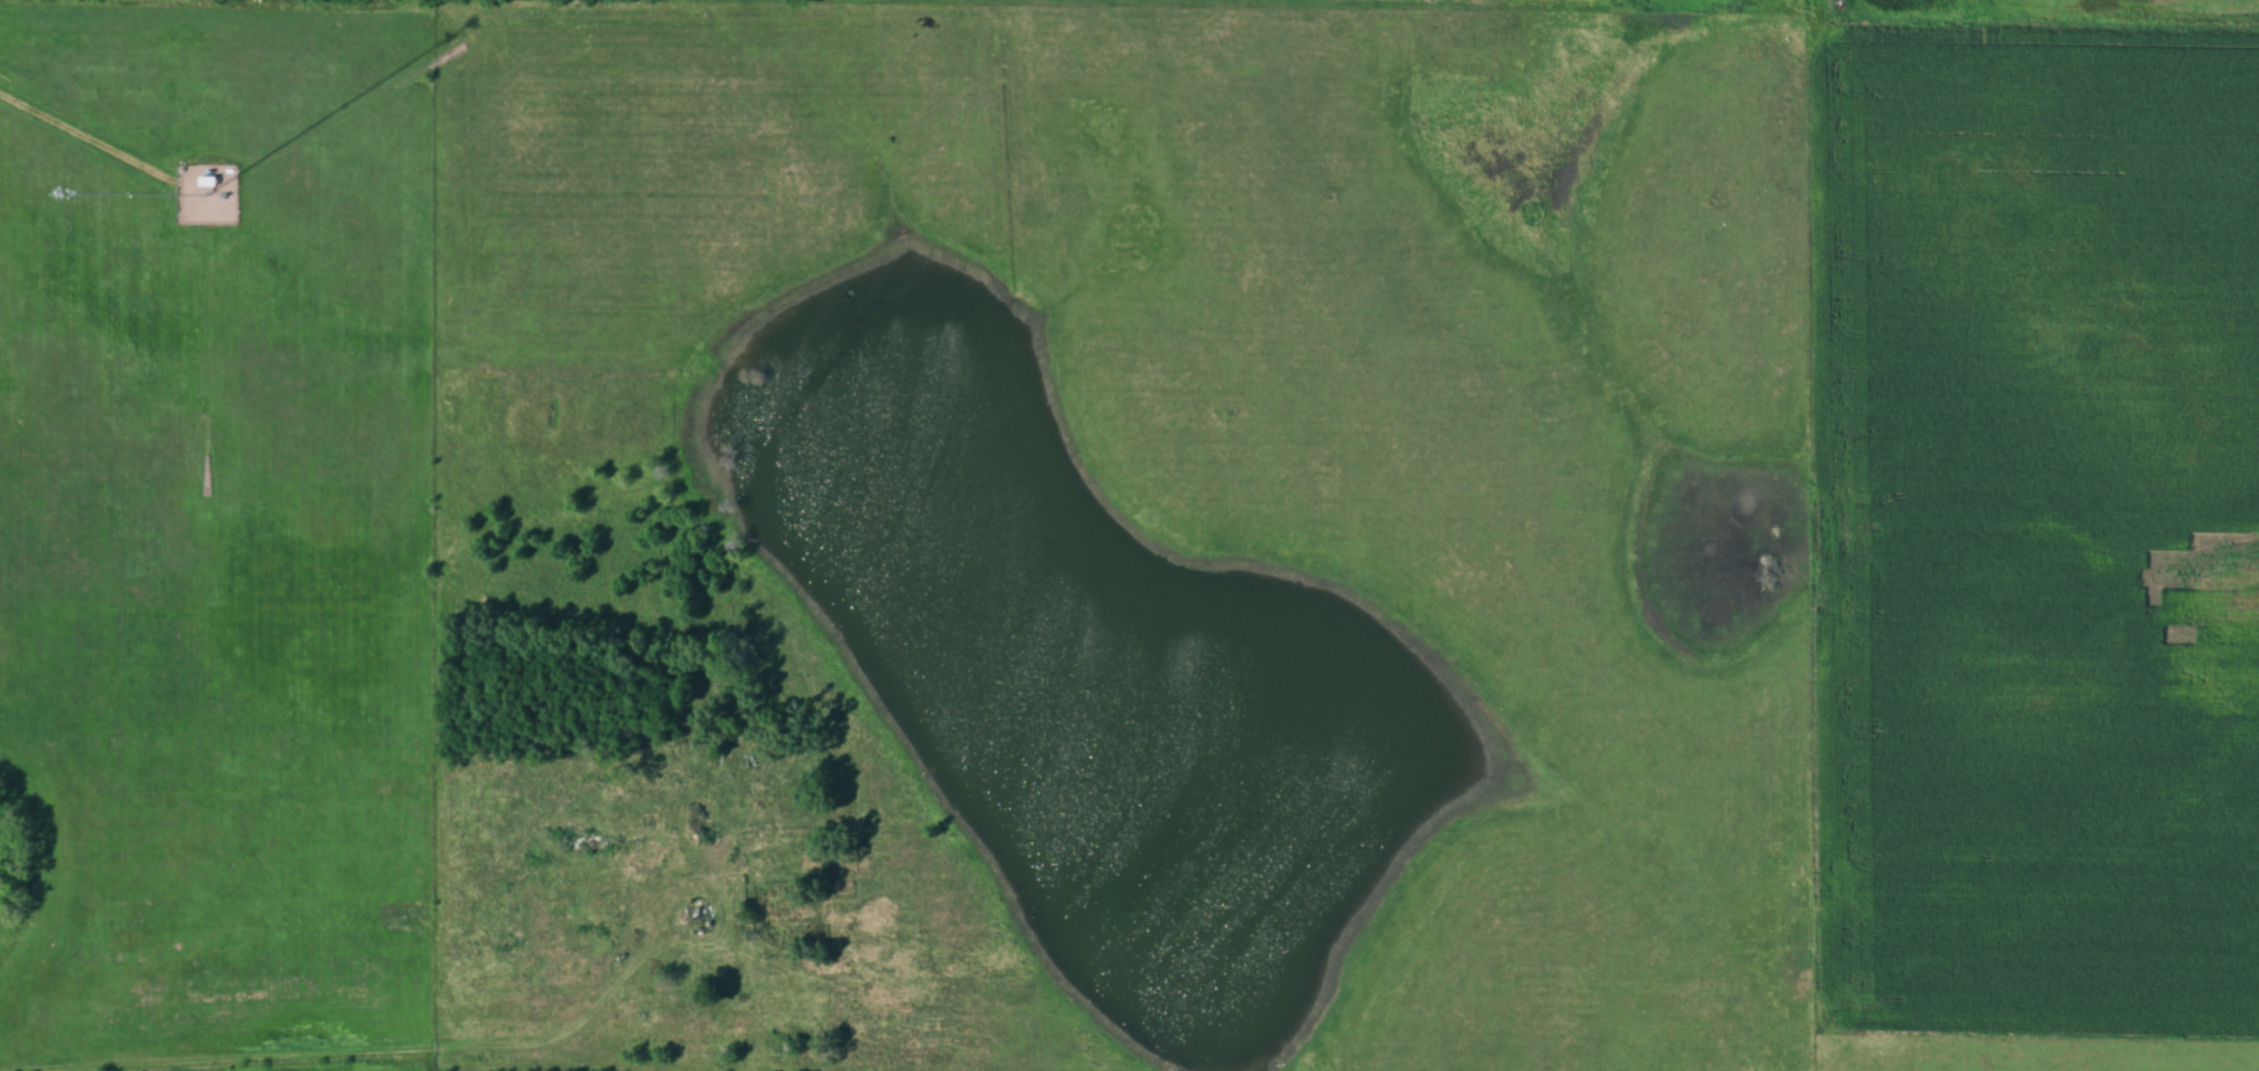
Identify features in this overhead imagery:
building: (726, 860)
building: (592, 919)
building: (701, 976)
building: (885, 1027)
road: (380, 1052)

